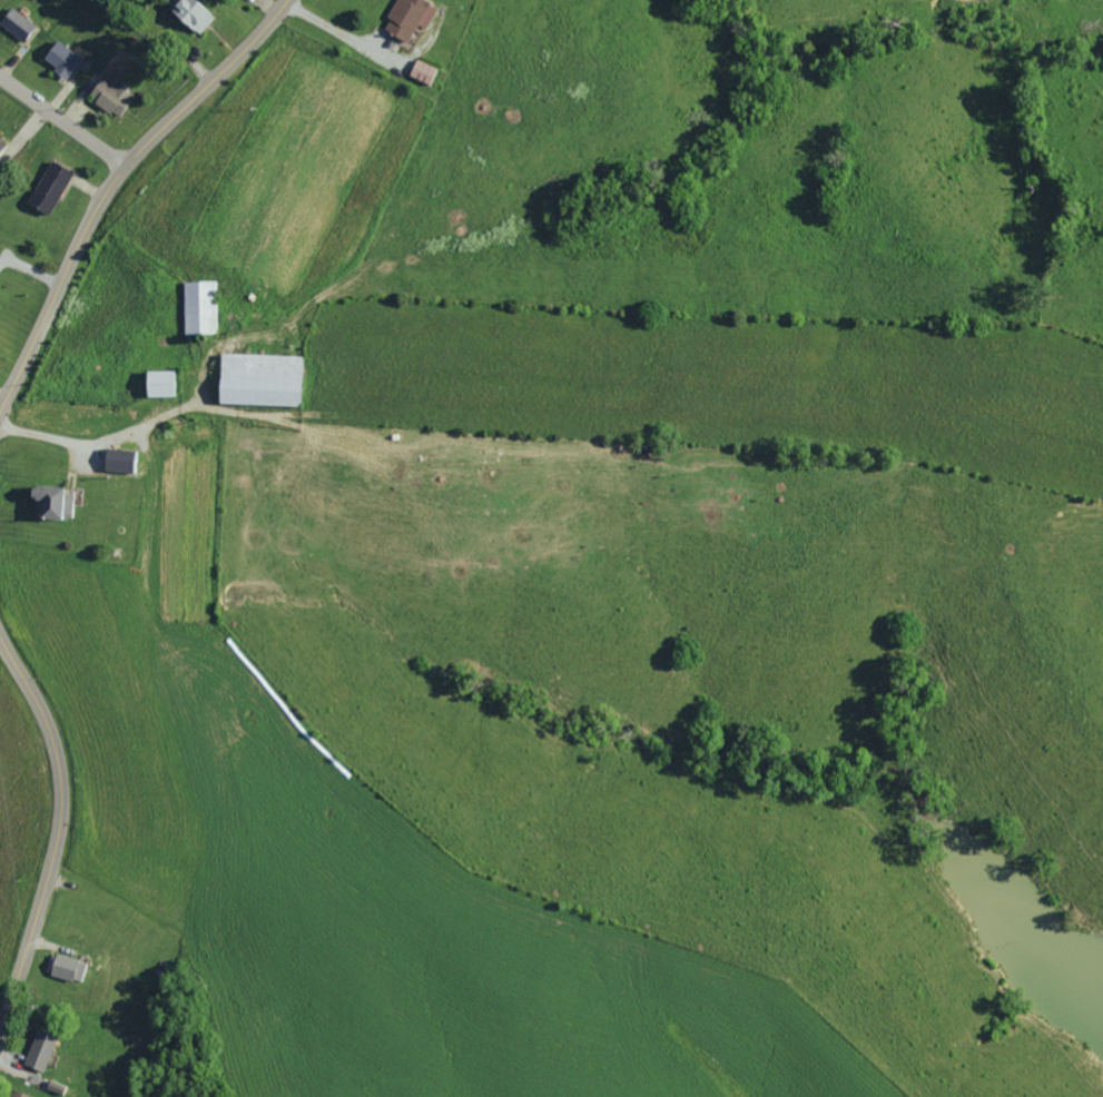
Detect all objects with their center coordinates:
building: (190, 14)
building: (406, 17)
building: (14, 23)
building: (58, 58)
building: (423, 71)
building: (107, 96)
road: (61, 119)
building: (1, 141)
road: (110, 180)
building: (47, 187)
building: (198, 307)
road: (571, 337)
building: (257, 379)
building: (158, 383)
building: (118, 461)
building: (43, 501)
road: (55, 832)
building: (67, 967)
building: (38, 1050)
building: (17, 1094)

